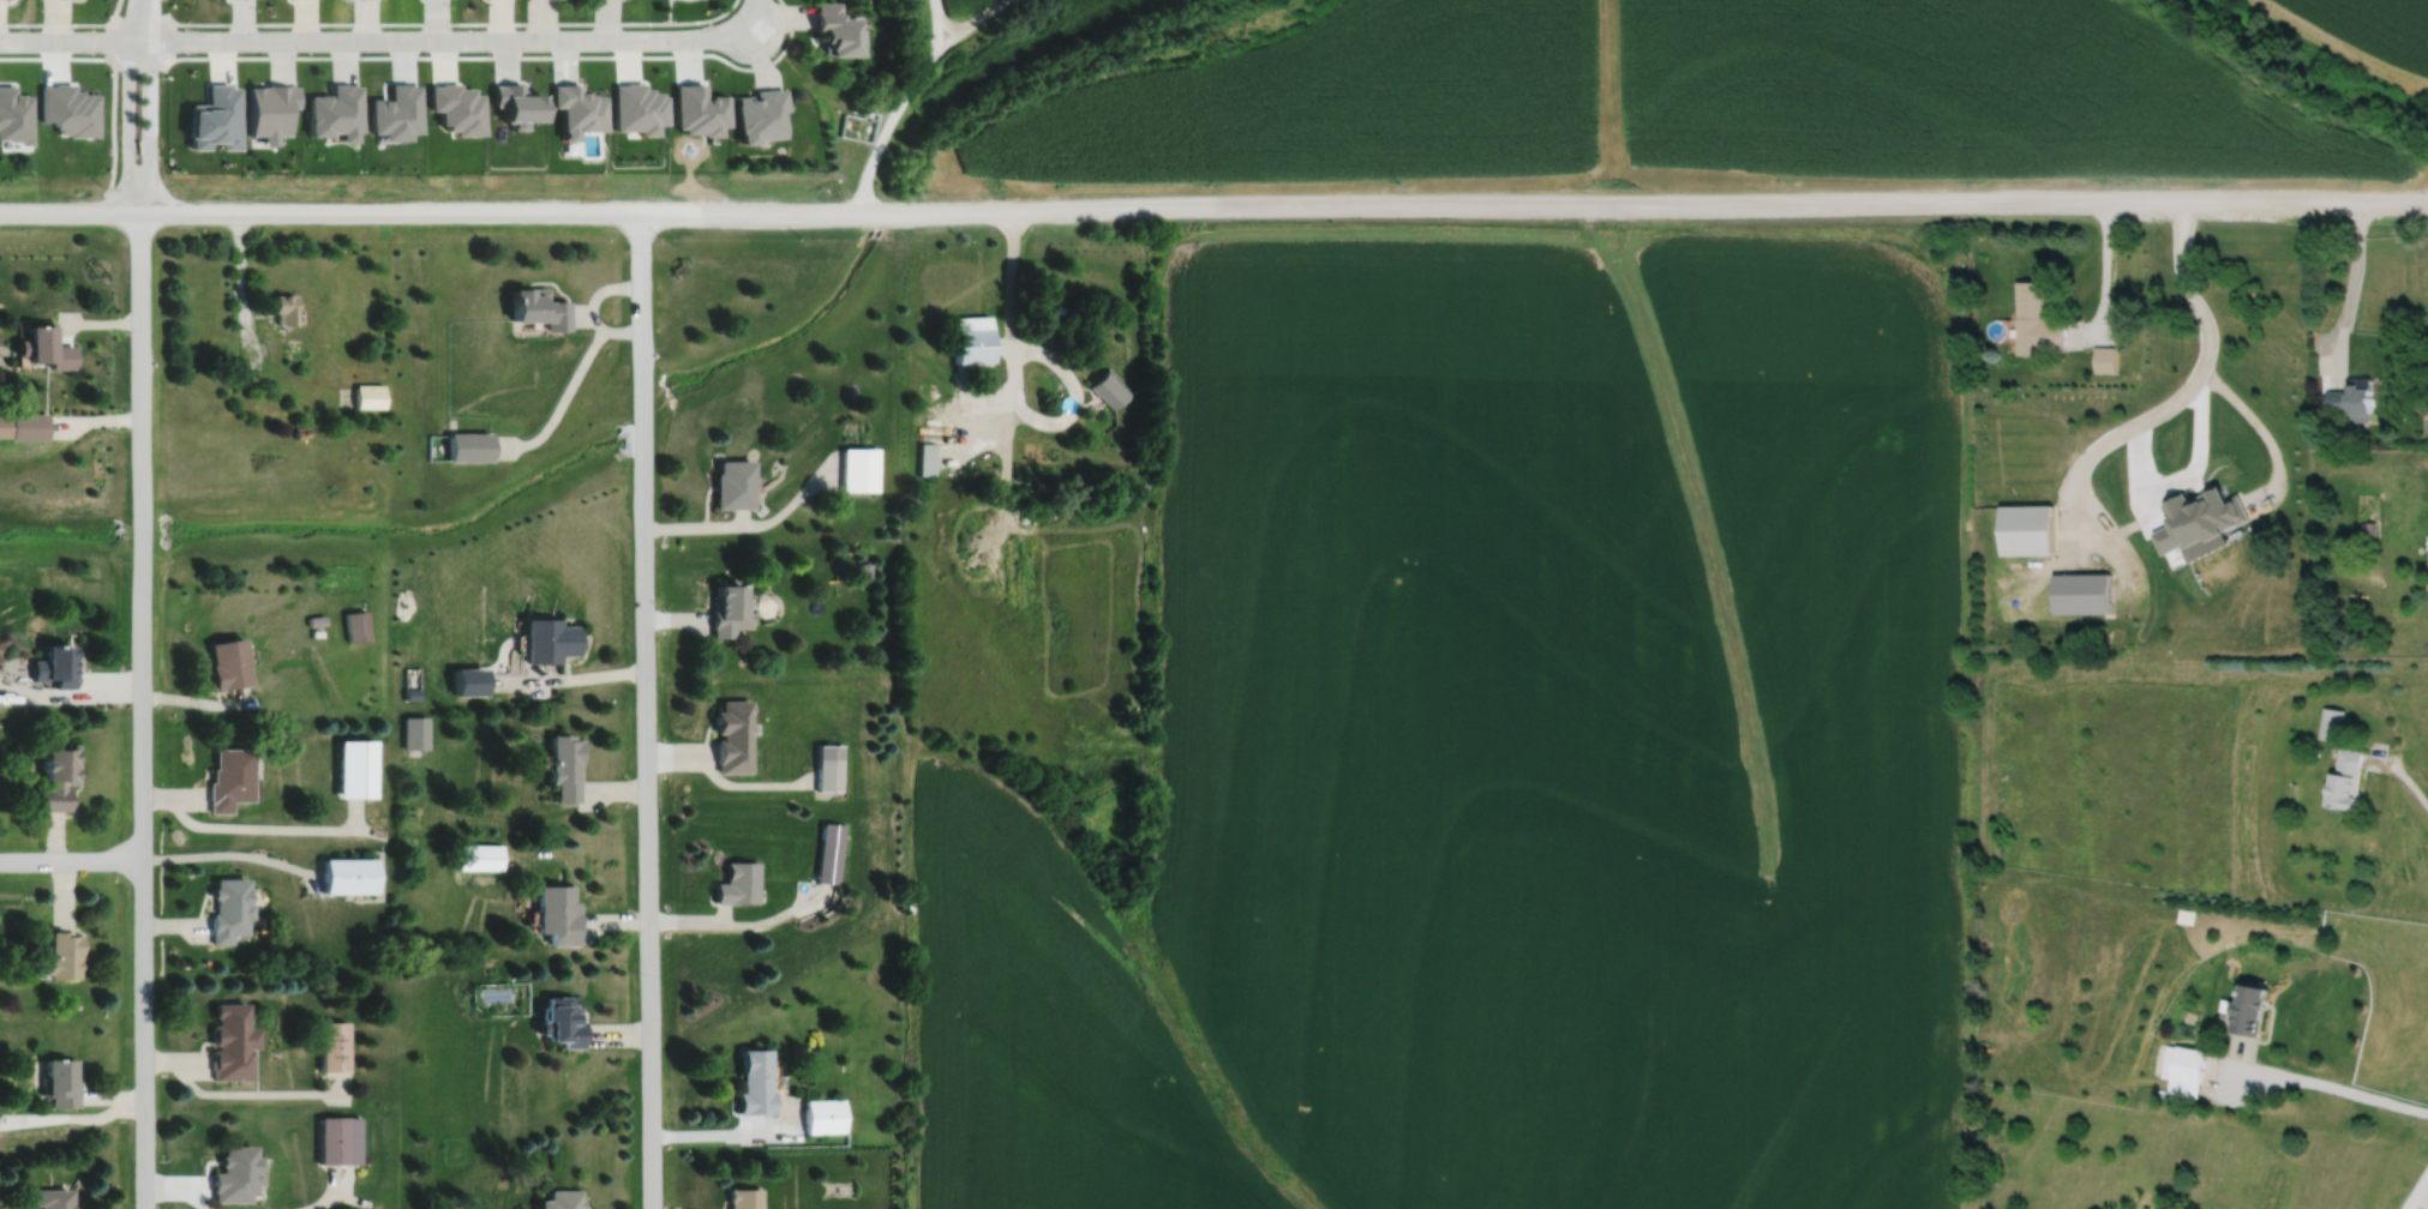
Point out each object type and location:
crop: (963, 6)
road: (137, 18)
road: (760, 18)
road: (142, 19)
road: (449, 22)
road: (66, 23)
road: (936, 24)
building: (835, 26)
crop: (2362, 34)
road: (110, 38)
road: (379, 38)
road: (170, 40)
crop: (1026, 43)
road: (500, 55)
road: (136, 64)
road: (113, 71)
road: (909, 89)
crop: (1684, 97)
building: (517, 101)
building: (456, 104)
building: (637, 104)
building: (268, 107)
building: (577, 107)
building: (697, 107)
building: (395, 109)
building: (334, 110)
building: (760, 112)
building: (214, 115)
building: (14, 116)
road: (128, 125)
road: (149, 126)
road: (1575, 205)
road: (361, 211)
road: (2104, 267)
road: (2351, 281)
building: (539, 306)
building: (282, 307)
building: (1055, 312)
building: (2037, 320)
road: (247, 332)
building: (972, 337)
building: (46, 344)
building: (2104, 357)
road: (1012, 368)
building: (1109, 386)
building: (368, 395)
road: (2180, 395)
building: (2352, 397)
building: (24, 425)
road: (2259, 426)
building: (300, 431)
building: (469, 445)
building: (927, 457)
building: (861, 468)
road: (2187, 475)
building: (733, 483)
building: (1041, 485)
building: (2201, 518)
building: (2369, 527)
building: (2026, 529)
building: (864, 570)
building: (2082, 593)
building: (727, 609)
building: (314, 620)
building: (355, 624)
building: (548, 639)
building: (227, 663)
building: (55, 666)
building: (469, 681)
building: (412, 693)
road: (645, 709)
road: (140, 710)
building: (2331, 723)
building: (415, 732)
building: (732, 735)
crop: (1505, 741)
building: (828, 764)
building: (355, 768)
building: (565, 768)
road: (2403, 772)
building: (56, 778)
building: (228, 778)
building: (2344, 780)
building: (829, 849)
building: (485, 856)
road: (71, 858)
building: (348, 876)
building: (737, 880)
building: (228, 910)
building: (558, 914)
building: (2187, 914)
building: (59, 954)
building: (2247, 1006)
building: (562, 1018)
building: (228, 1039)
building: (332, 1043)
building: (2182, 1067)
building: (59, 1079)
building: (754, 1081)
road: (2322, 1083)
building: (826, 1113)
building: (337, 1137)
building: (233, 1173)
road: (2416, 1190)
building: (50, 1197)
building: (743, 1197)
road: (2421, 1197)
building: (562, 1198)

